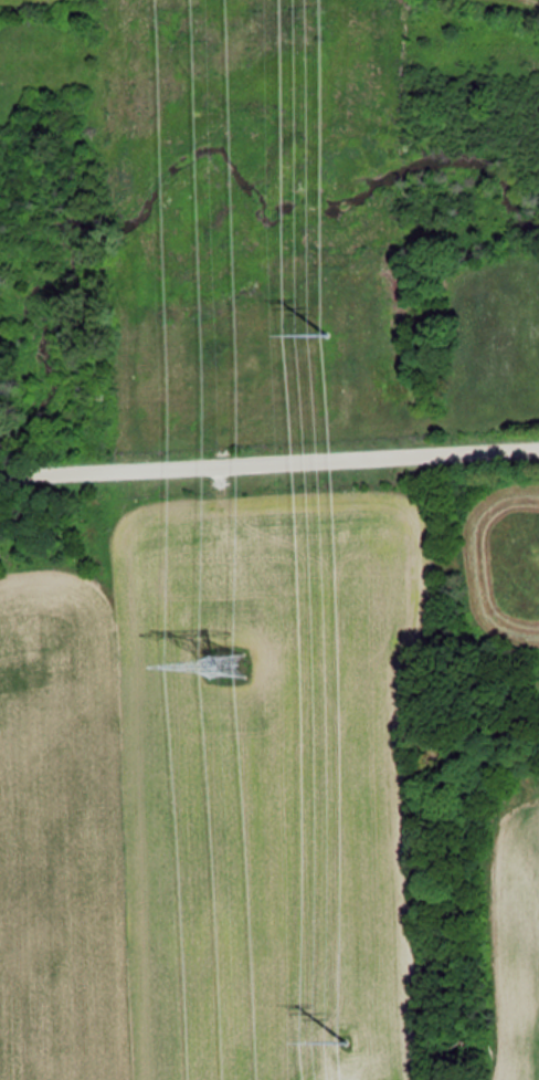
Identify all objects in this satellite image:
power tower: (328, 331)
road: (268, 454)
power tower: (224, 673)
power tower: (362, 1035)

